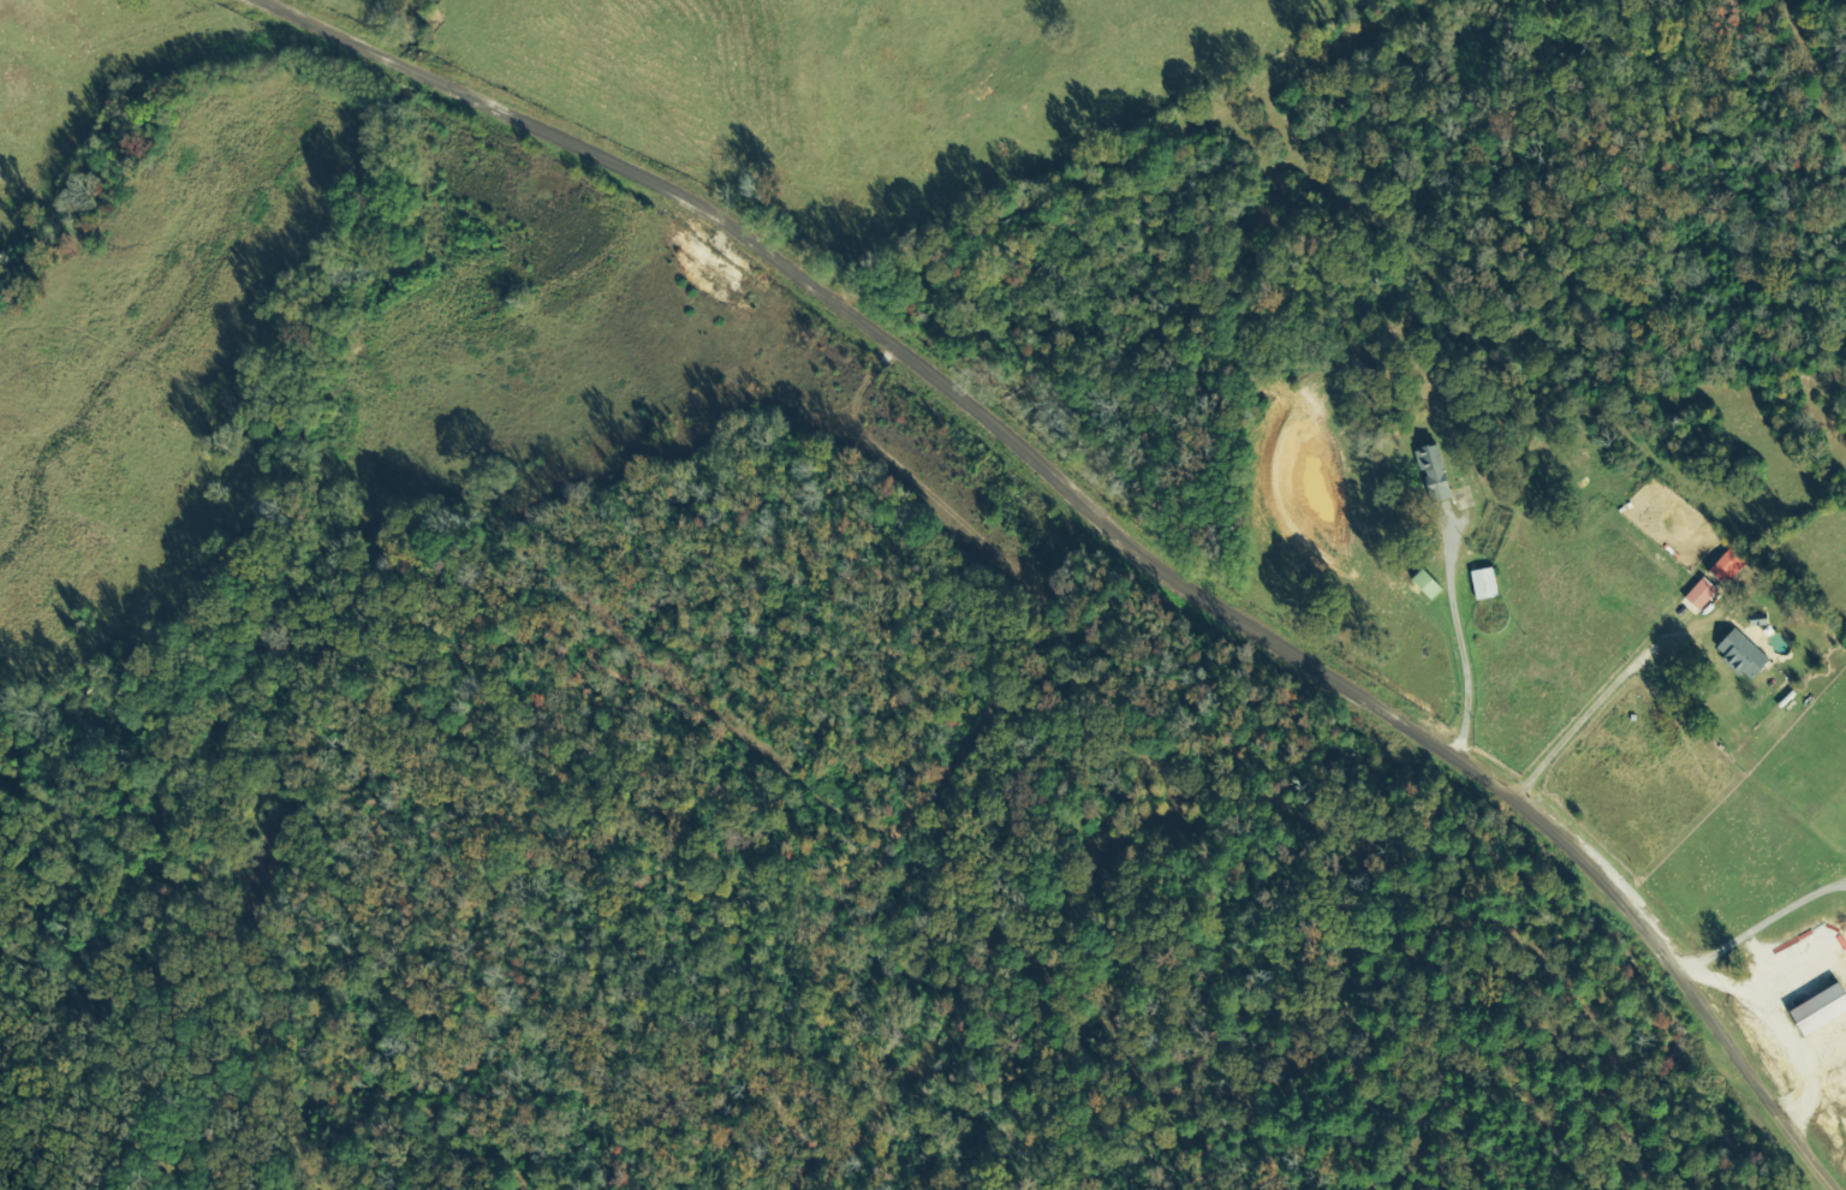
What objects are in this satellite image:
road: (240, 4)
road: (614, 399)
road: (772, 416)
building: (1439, 475)
road: (1092, 517)
building: (1731, 566)
building: (1488, 584)
building: (1430, 585)
building: (1704, 594)
building: (1746, 656)
building: (1822, 1012)

